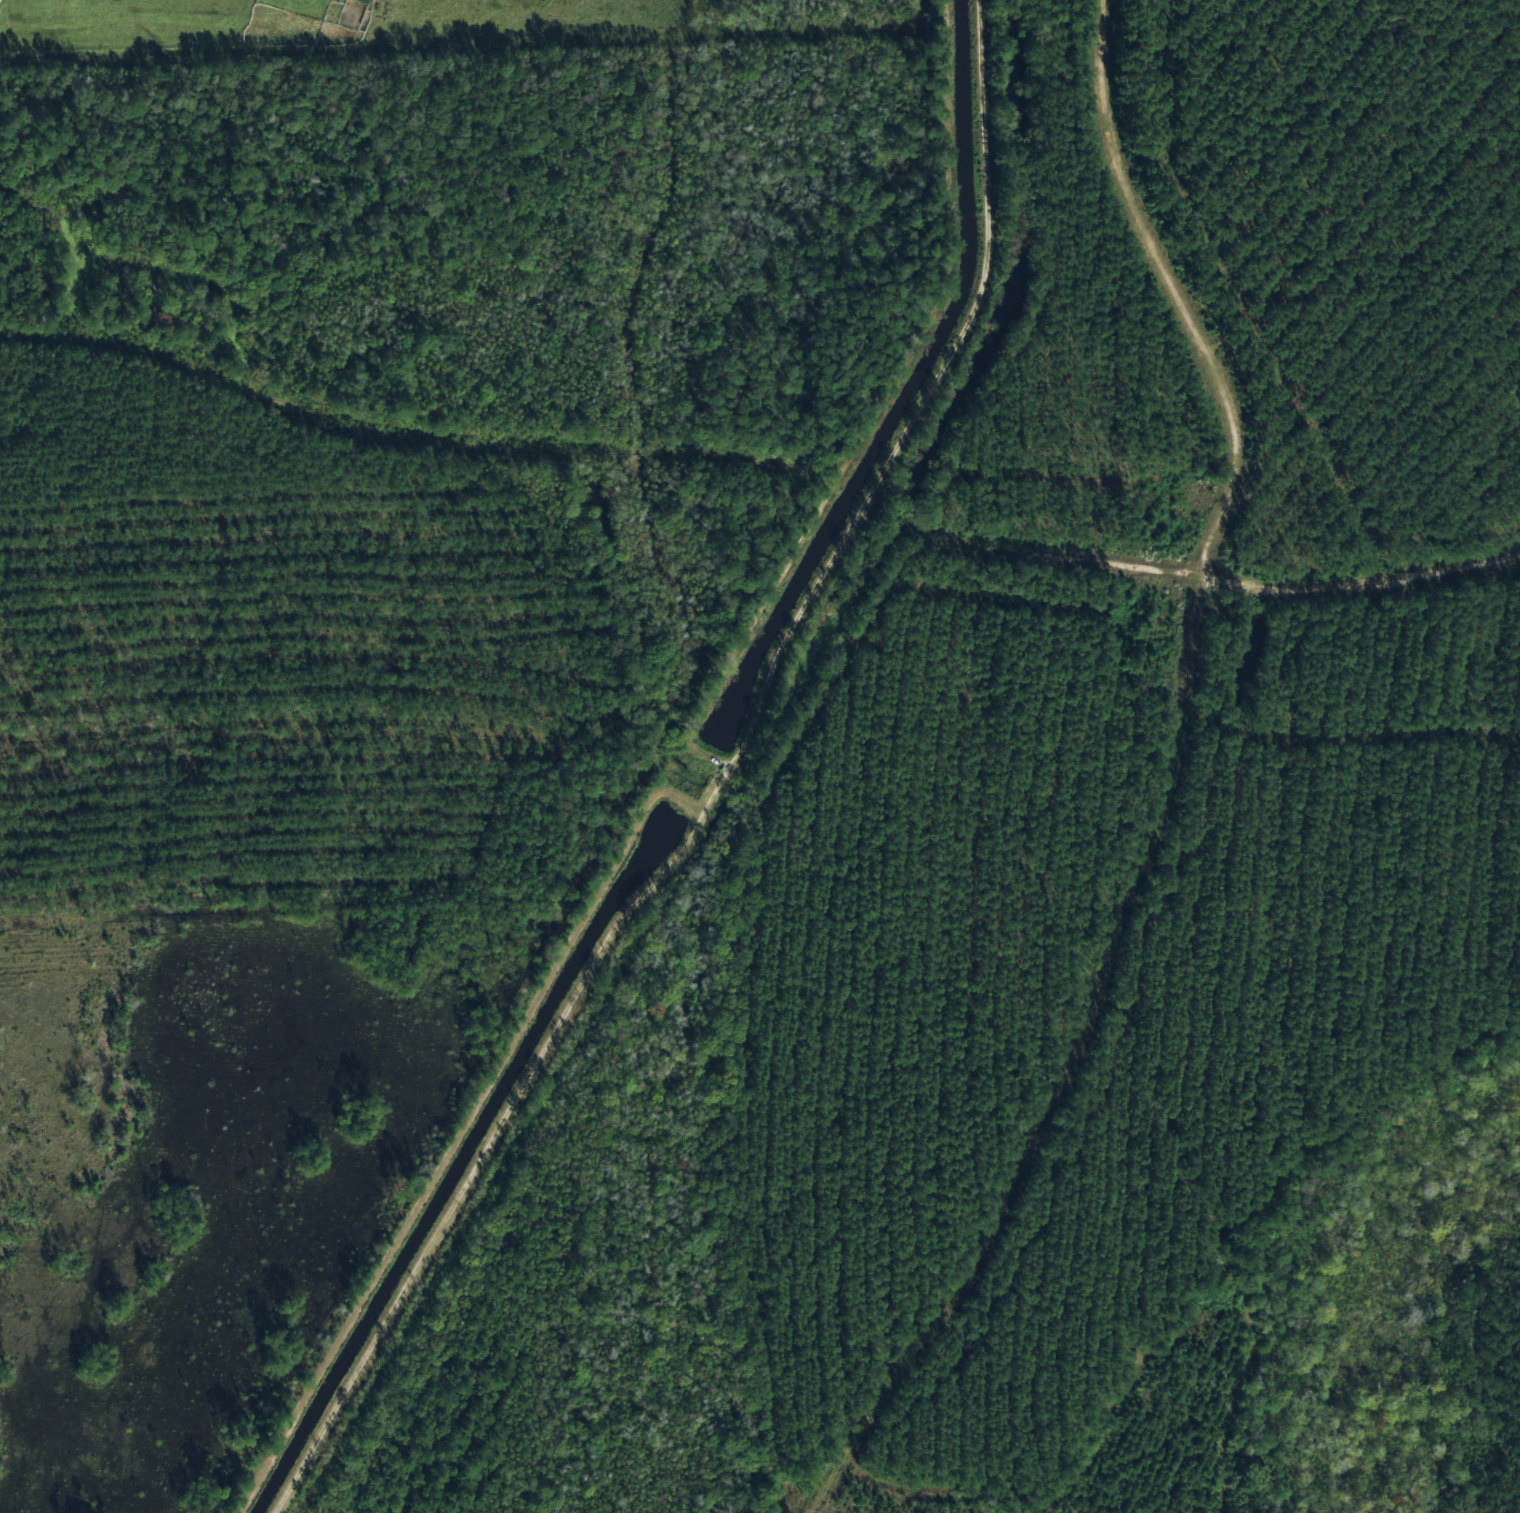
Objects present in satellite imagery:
road: (1183, 268)
road: (763, 438)

